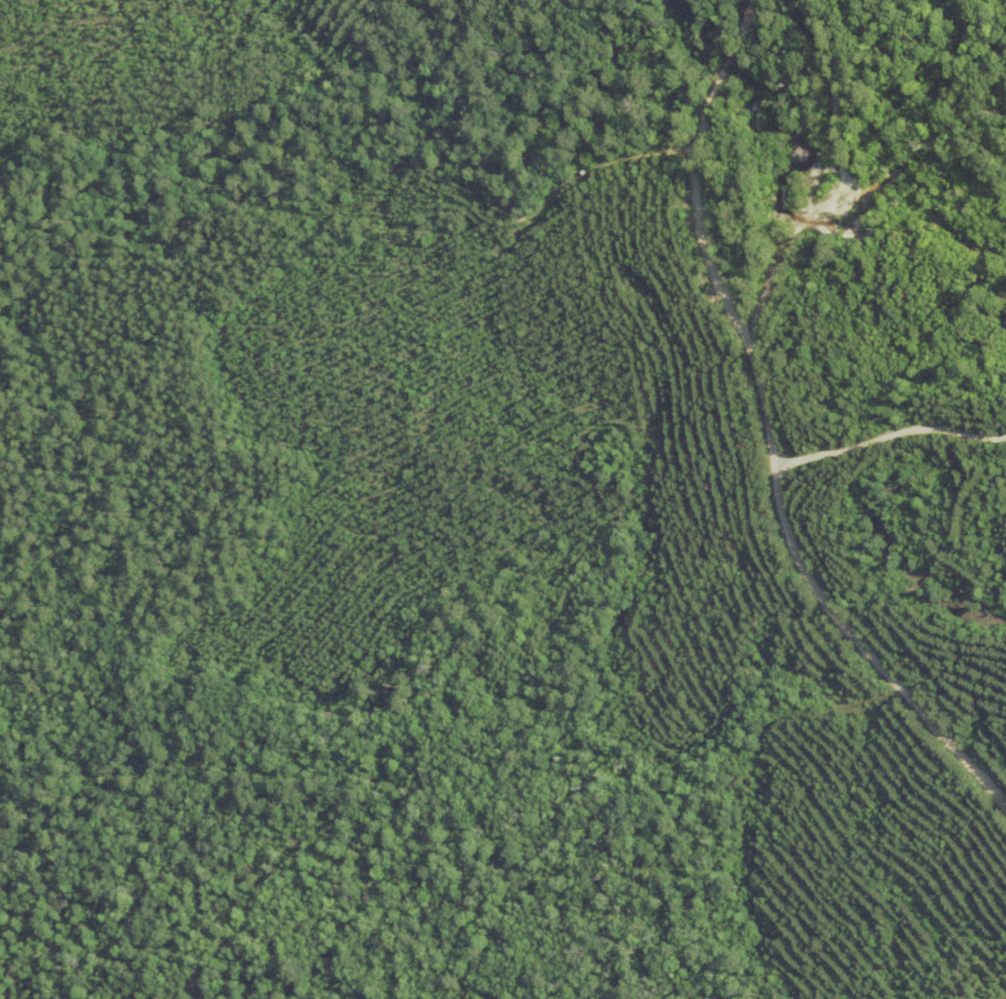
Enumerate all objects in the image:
road: (768, 441)

